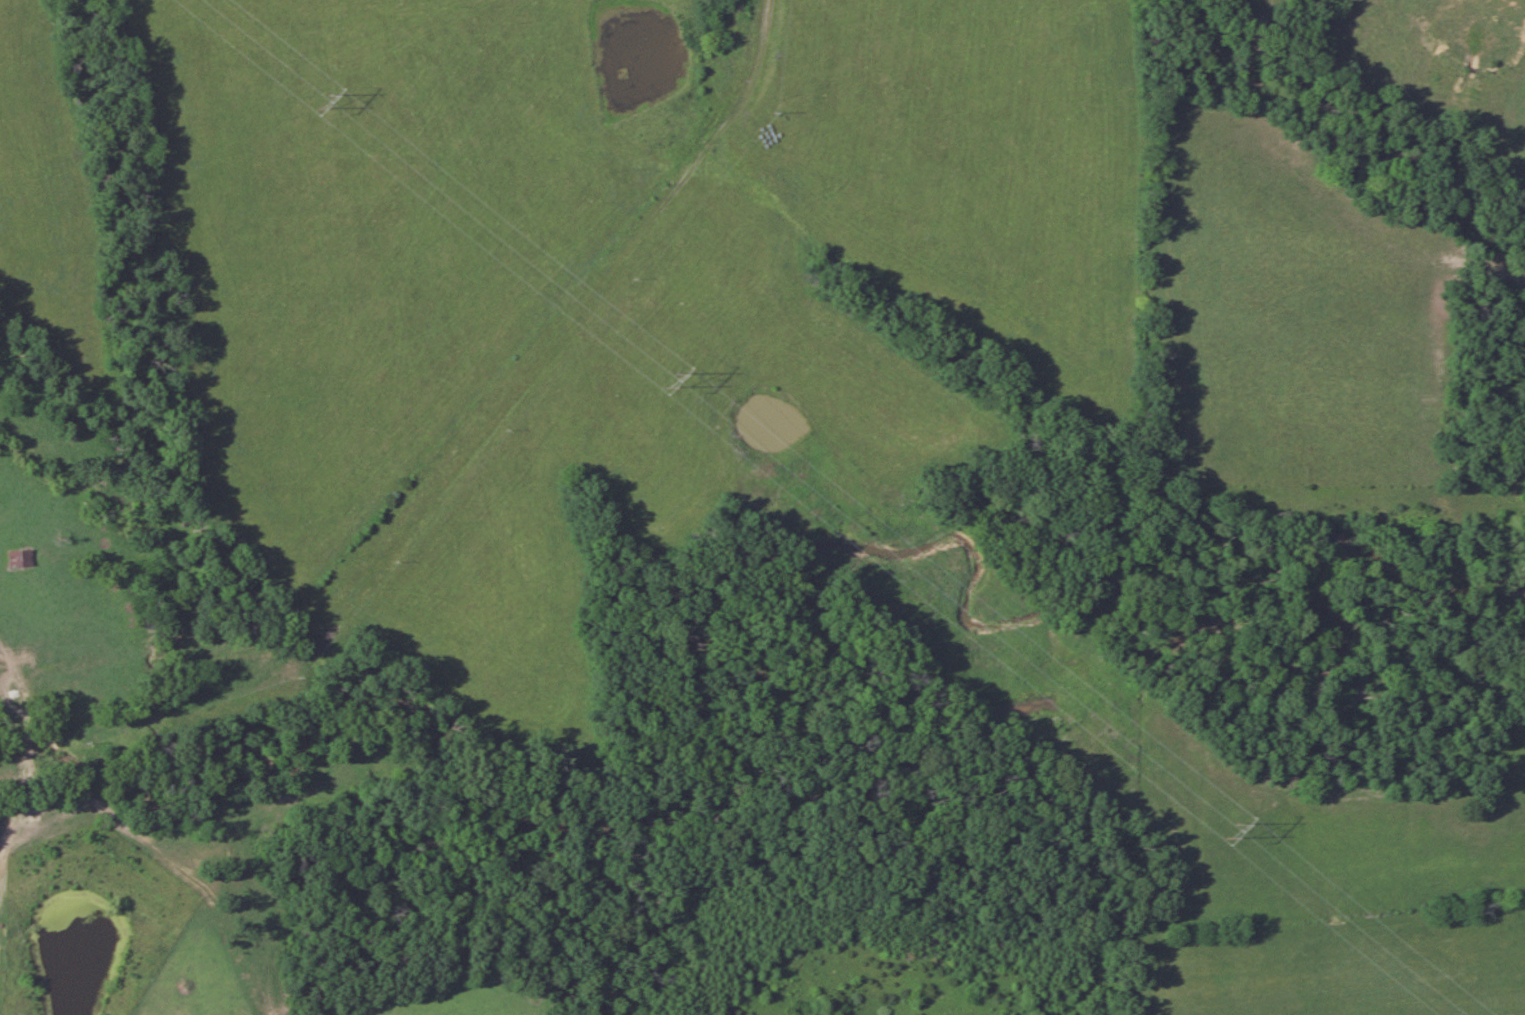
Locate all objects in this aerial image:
power tower: (324, 100)
power tower: (671, 379)
building: (21, 558)
power tower: (1229, 832)

